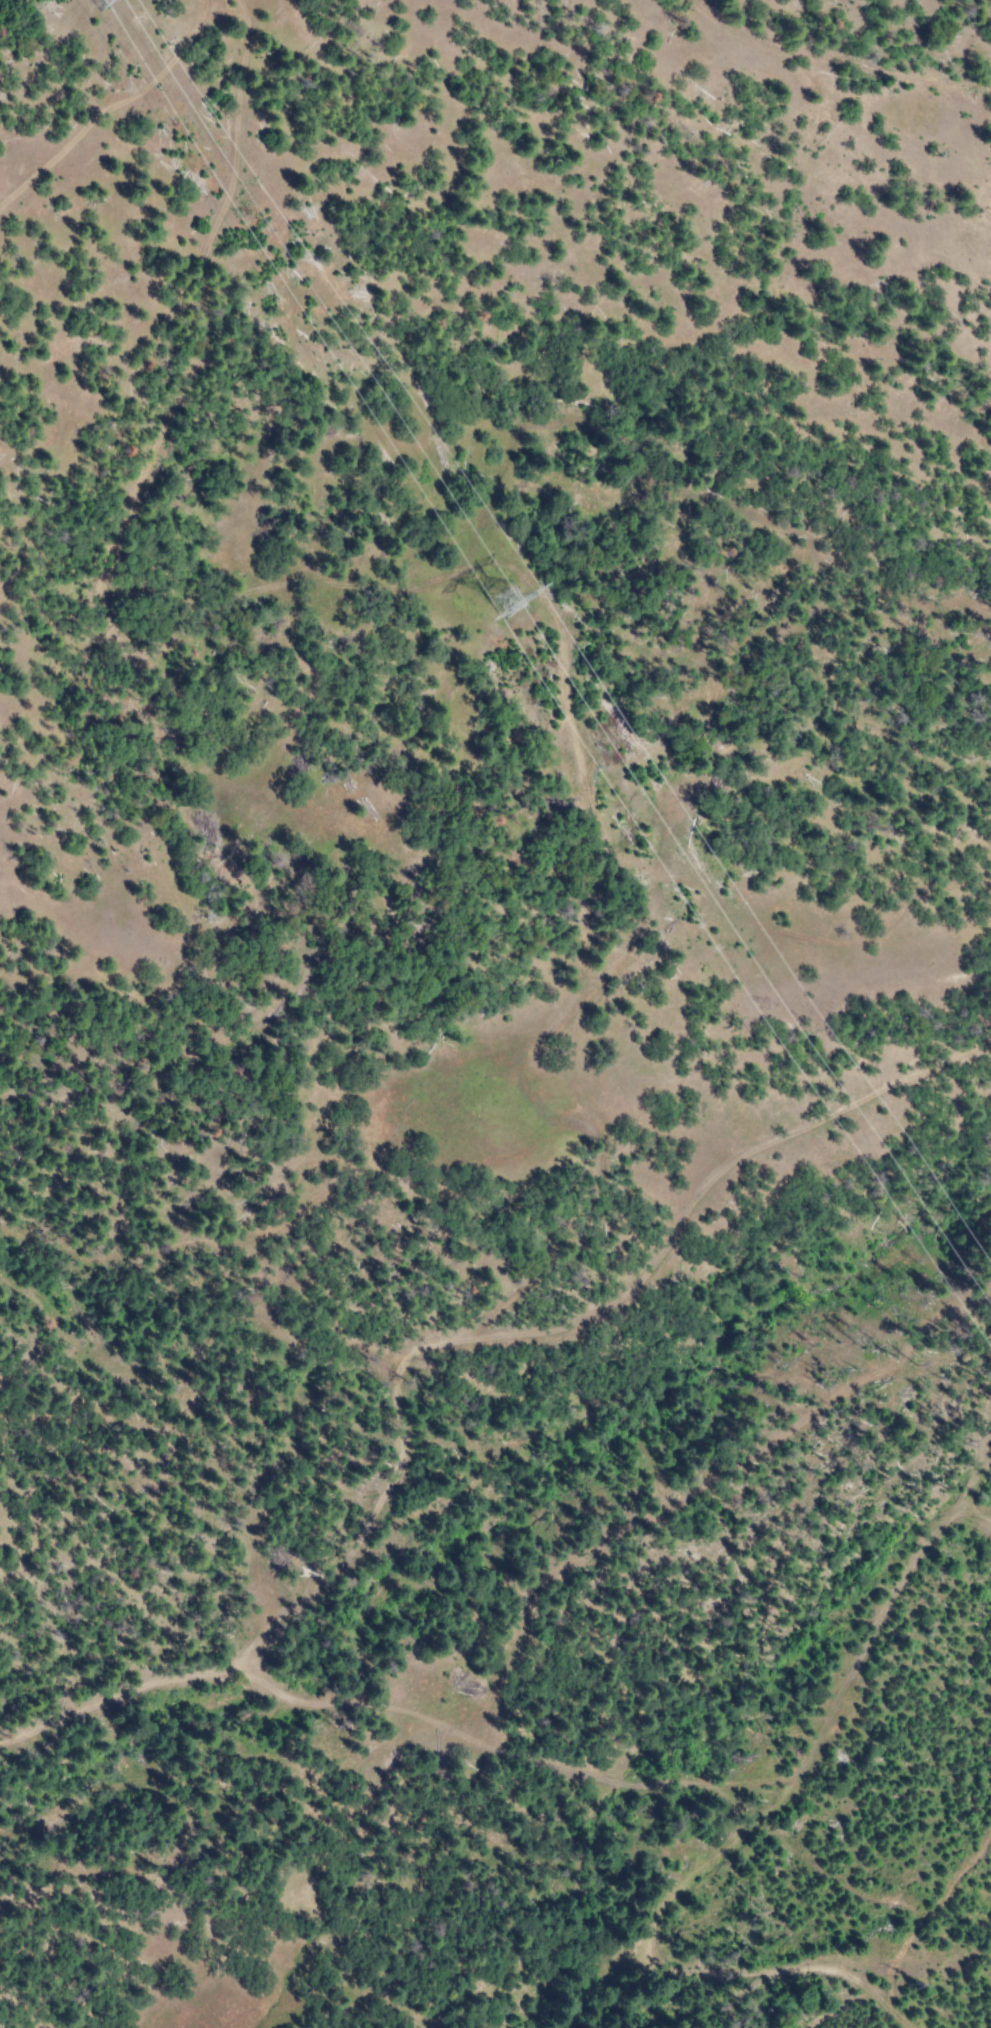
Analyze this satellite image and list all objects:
power tower: (498, 601)
road: (850, 1710)

